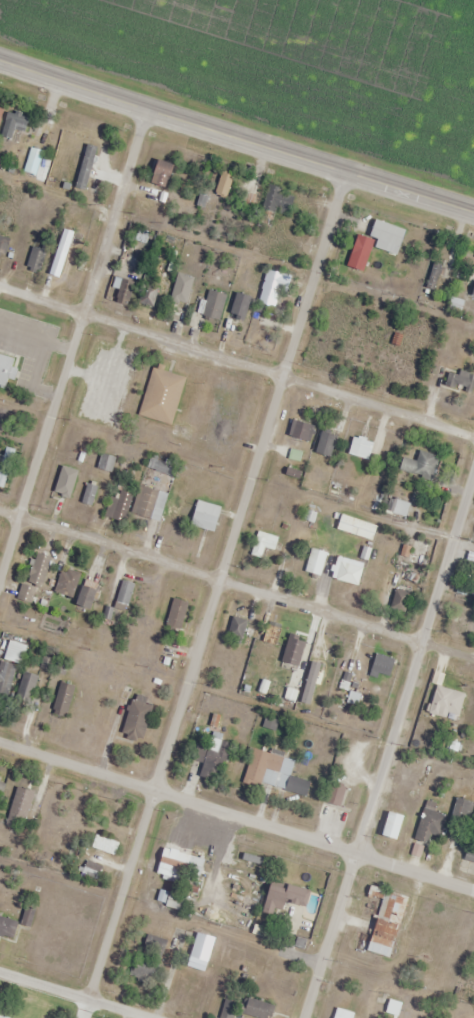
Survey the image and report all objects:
building: (0, 109)
road: (237, 134)
building: (158, 174)
building: (221, 185)
building: (273, 206)
building: (371, 244)
building: (2, 245)
building: (58, 254)
building: (34, 260)
building: (271, 289)
building: (471, 290)
building: (120, 291)
building: (178, 294)
building: (146, 295)
building: (210, 305)
building: (238, 306)
building: (318, 345)
road: (77, 354)
road: (236, 360)
building: (4, 369)
building: (457, 382)
building: (160, 396)
building: (298, 431)
building: (323, 443)
building: (355, 448)
building: (104, 463)
building: (4, 464)
building: (417, 465)
building: (56, 484)
road: (253, 484)
building: (87, 494)
building: (147, 503)
building: (118, 505)
building: (397, 508)
building: (202, 518)
building: (261, 544)
building: (419, 555)
building: (312, 562)
building: (37, 570)
building: (343, 570)
building: (471, 575)
building: (65, 583)
building: (122, 593)
building: (85, 594)
road: (236, 594)
building: (395, 600)
building: (174, 613)
building: (235, 631)
building: (270, 633)
building: (325, 648)
building: (291, 650)
building: (12, 652)
building: (381, 665)
road: (414, 671)
building: (5, 677)
building: (25, 687)
building: (61, 699)
building: (442, 702)
building: (134, 721)
building: (210, 761)
building: (272, 773)
building: (1, 787)
building: (333, 794)
building: (19, 805)
building: (458, 812)
road: (236, 821)
building: (387, 825)
building: (426, 827)
building: (467, 852)
building: (176, 864)
building: (91, 869)
building: (277, 896)
road: (121, 900)
building: (173, 901)
building: (383, 923)
building: (3, 926)
road: (331, 938)
building: (152, 948)
building: (198, 951)
road: (65, 998)
building: (244, 1008)

